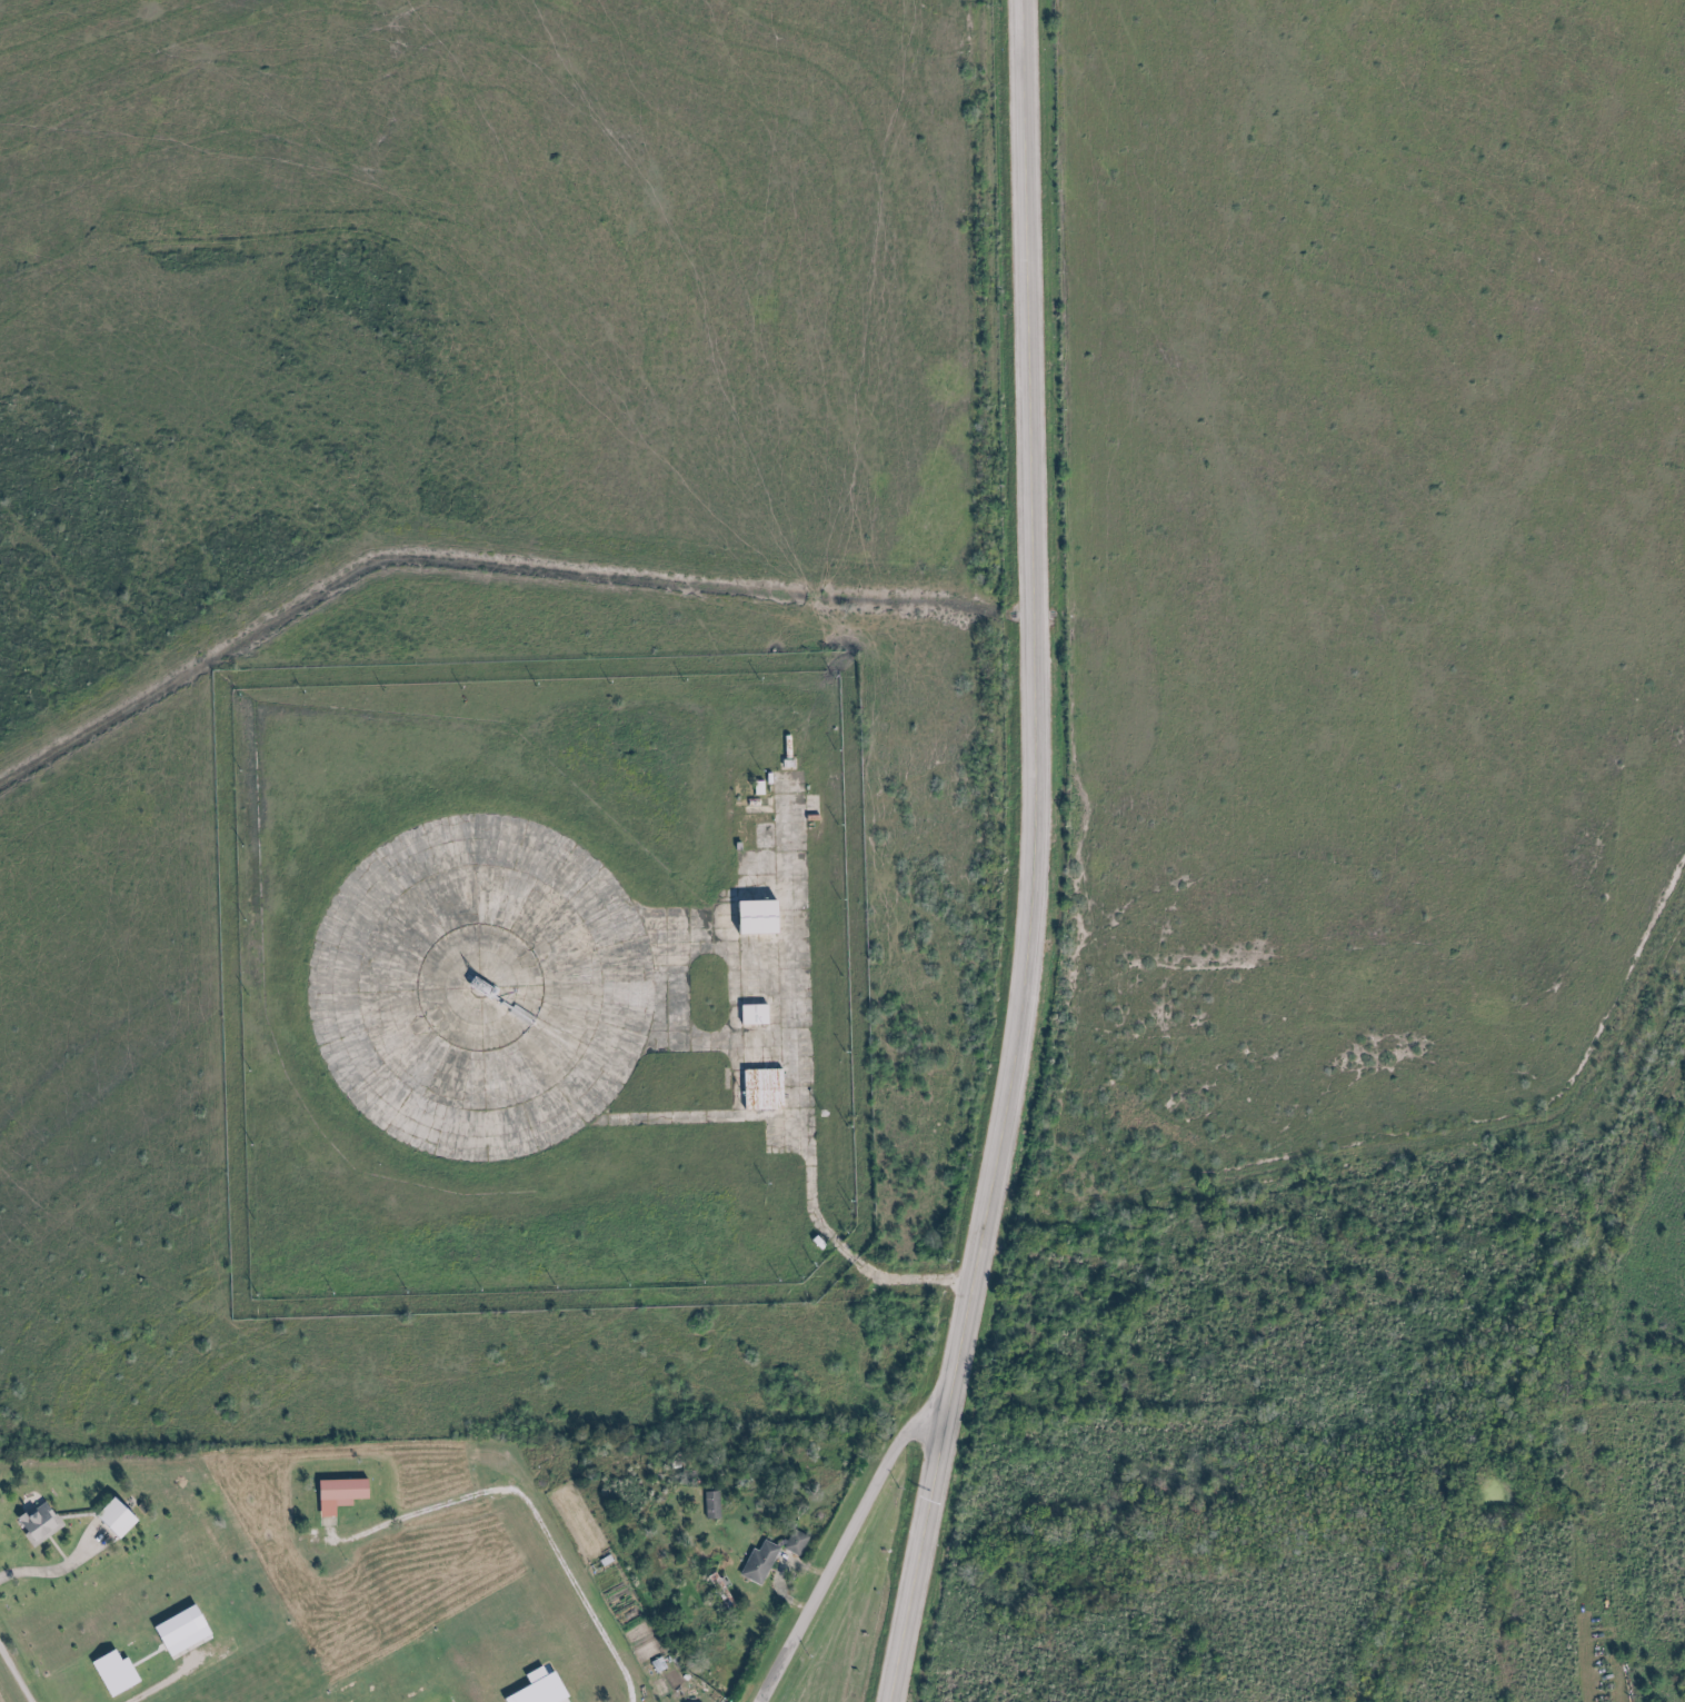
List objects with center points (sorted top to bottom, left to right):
road: (1031, 857)
building: (752, 918)
road: (717, 943)
helipad: (471, 987)
building: (749, 1015)
road: (719, 1039)
building: (756, 1089)
road: (698, 1117)
road: (808, 1124)
railway: (1522, 1386)
road: (863, 1494)
building: (332, 1496)
building: (709, 1505)
road: (531, 1514)
building: (124, 1515)
building: (42, 1523)
building: (769, 1550)
road: (17, 1671)

